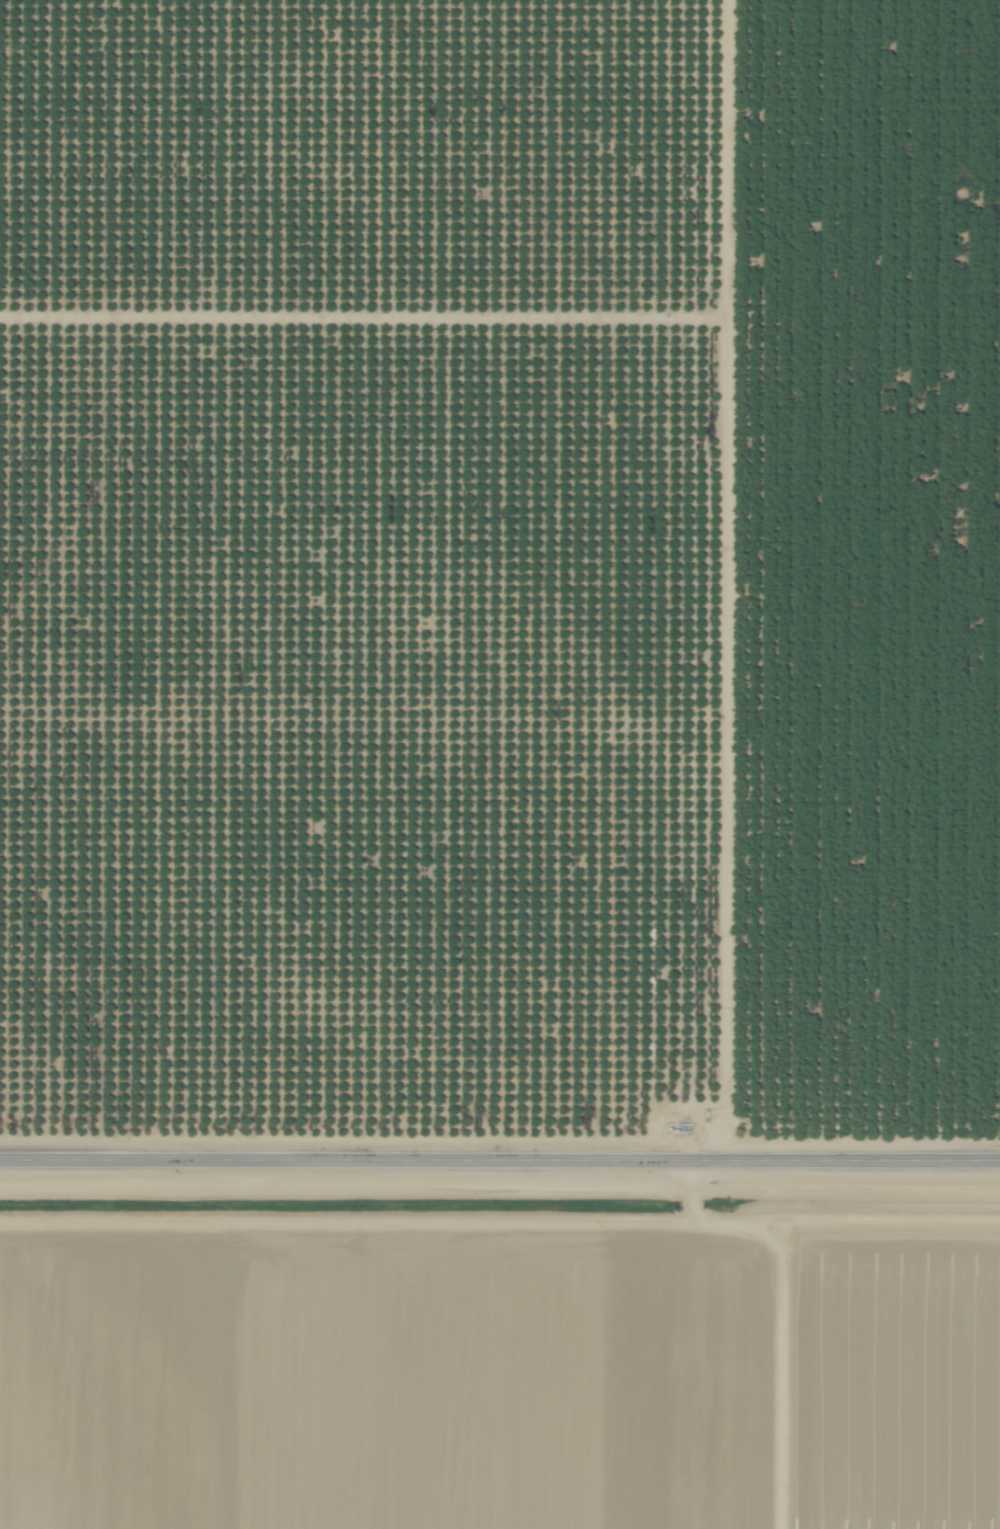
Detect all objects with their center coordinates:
road: (754, 764)
road: (499, 1167)
crop: (499, 1379)

